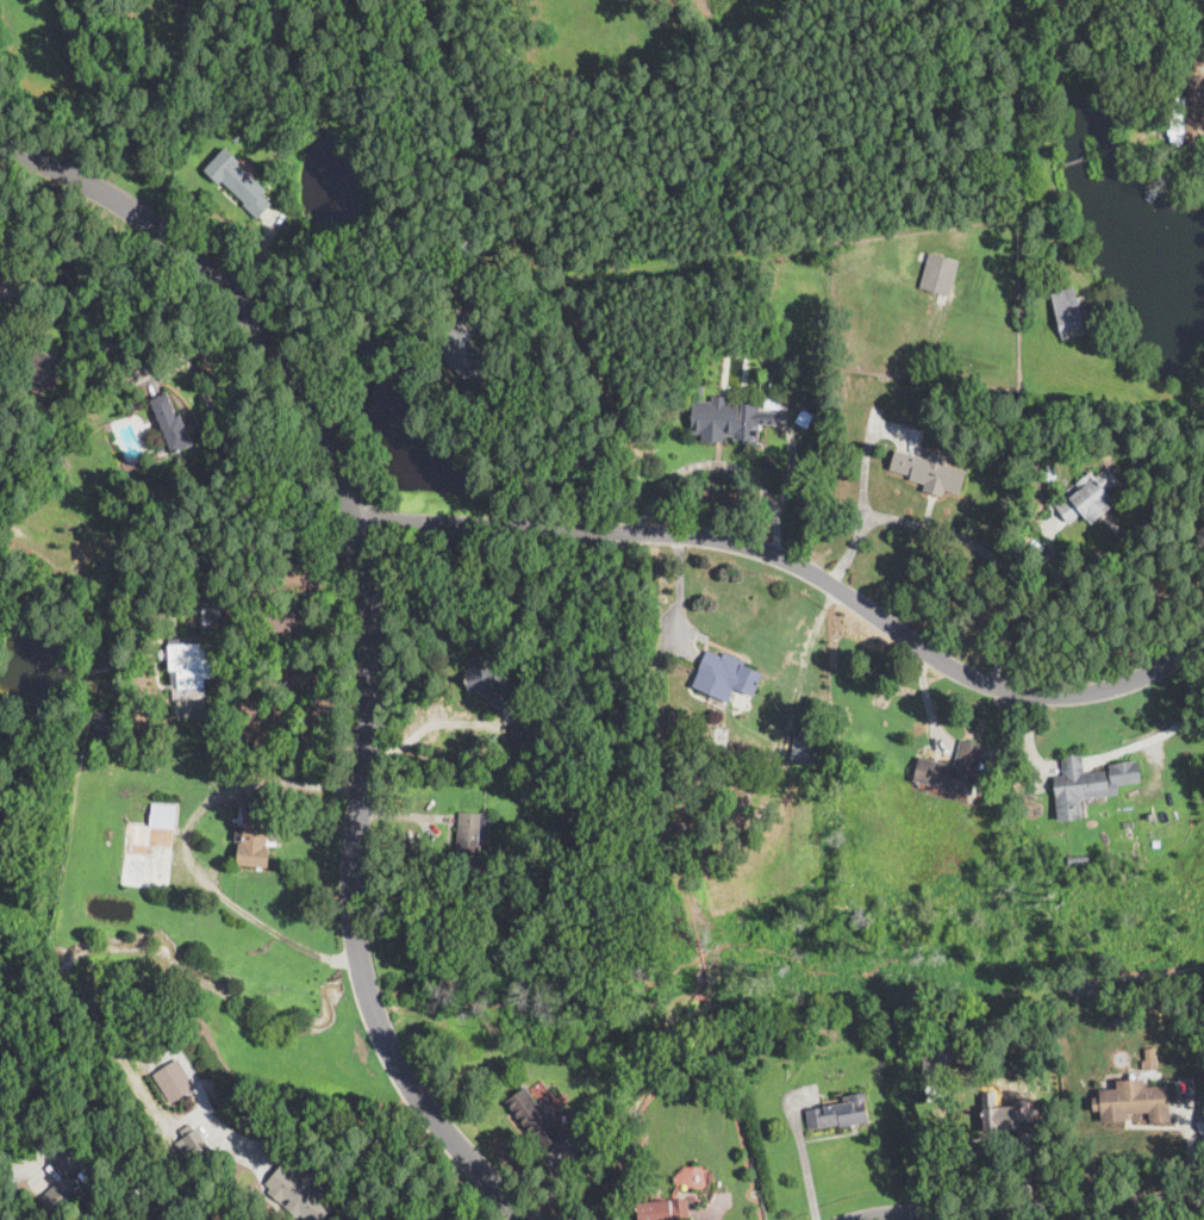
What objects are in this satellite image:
building: (1189, 113)
building: (235, 135)
building: (239, 181)
building: (463, 251)
building: (937, 280)
building: (7, 285)
building: (1071, 312)
road: (181, 340)
building: (110, 344)
building: (462, 353)
building: (45, 369)
building: (700, 387)
building: (36, 391)
building: (772, 400)
building: (804, 417)
building: (728, 419)
building: (170, 422)
building: (928, 472)
road: (863, 487)
building: (1090, 497)
road: (987, 554)
building: (50, 556)
road: (803, 568)
road: (680, 591)
road: (370, 627)
building: (164, 654)
building: (196, 656)
building: (174, 677)
building: (724, 677)
building: (486, 681)
building: (100, 724)
building: (518, 734)
building: (720, 736)
building: (803, 751)
building: (697, 752)
building: (710, 765)
building: (953, 770)
building: (709, 778)
building: (1075, 786)
building: (842, 811)
building: (691, 827)
building: (255, 833)
building: (470, 841)
building: (150, 847)
road: (188, 848)
building: (1079, 859)
building: (591, 920)
building: (87, 1033)
building: (936, 1057)
building: (1149, 1059)
building: (174, 1078)
building: (541, 1088)
building: (1133, 1101)
building: (838, 1114)
building: (1003, 1116)
building: (534, 1118)
road: (314, 1125)
building: (196, 1144)
road: (804, 1160)
building: (71, 1187)
building: (135, 1191)
building: (297, 1195)
building: (55, 1201)
road: (1035, 1206)
building: (665, 1210)

